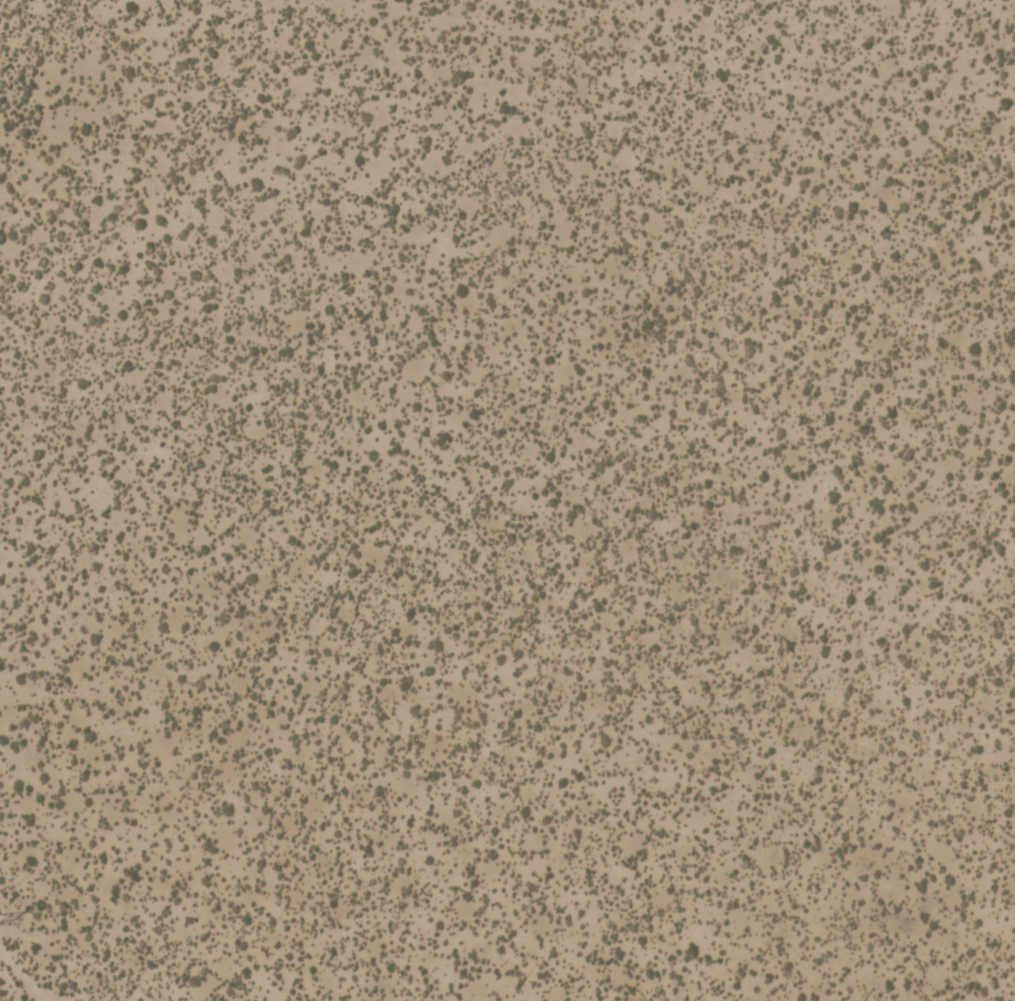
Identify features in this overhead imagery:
road: (22, 976)

